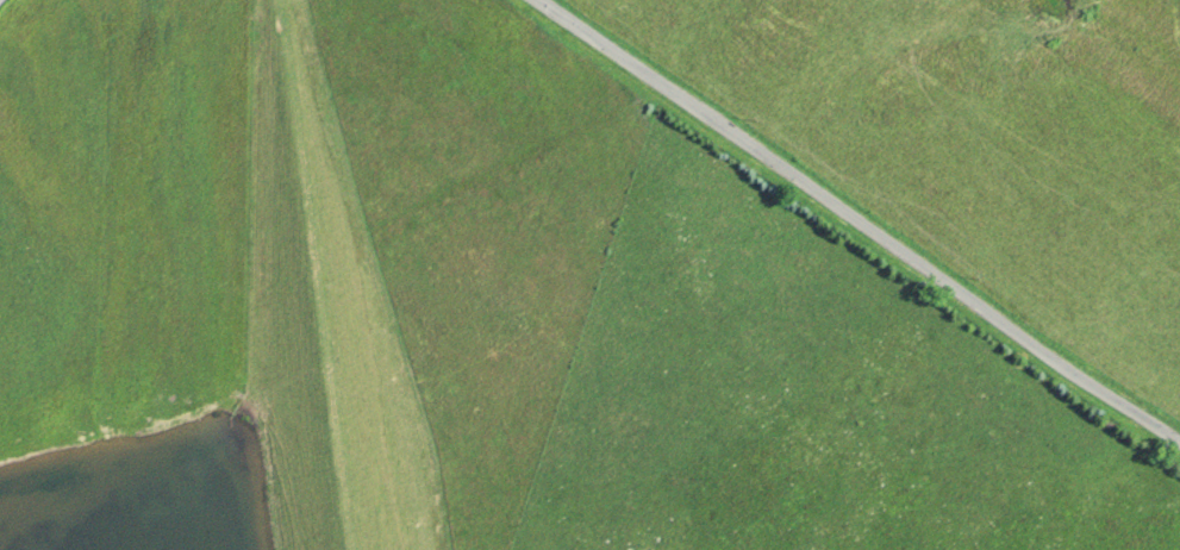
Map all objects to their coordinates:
road: (853, 229)
dam: (306, 275)

